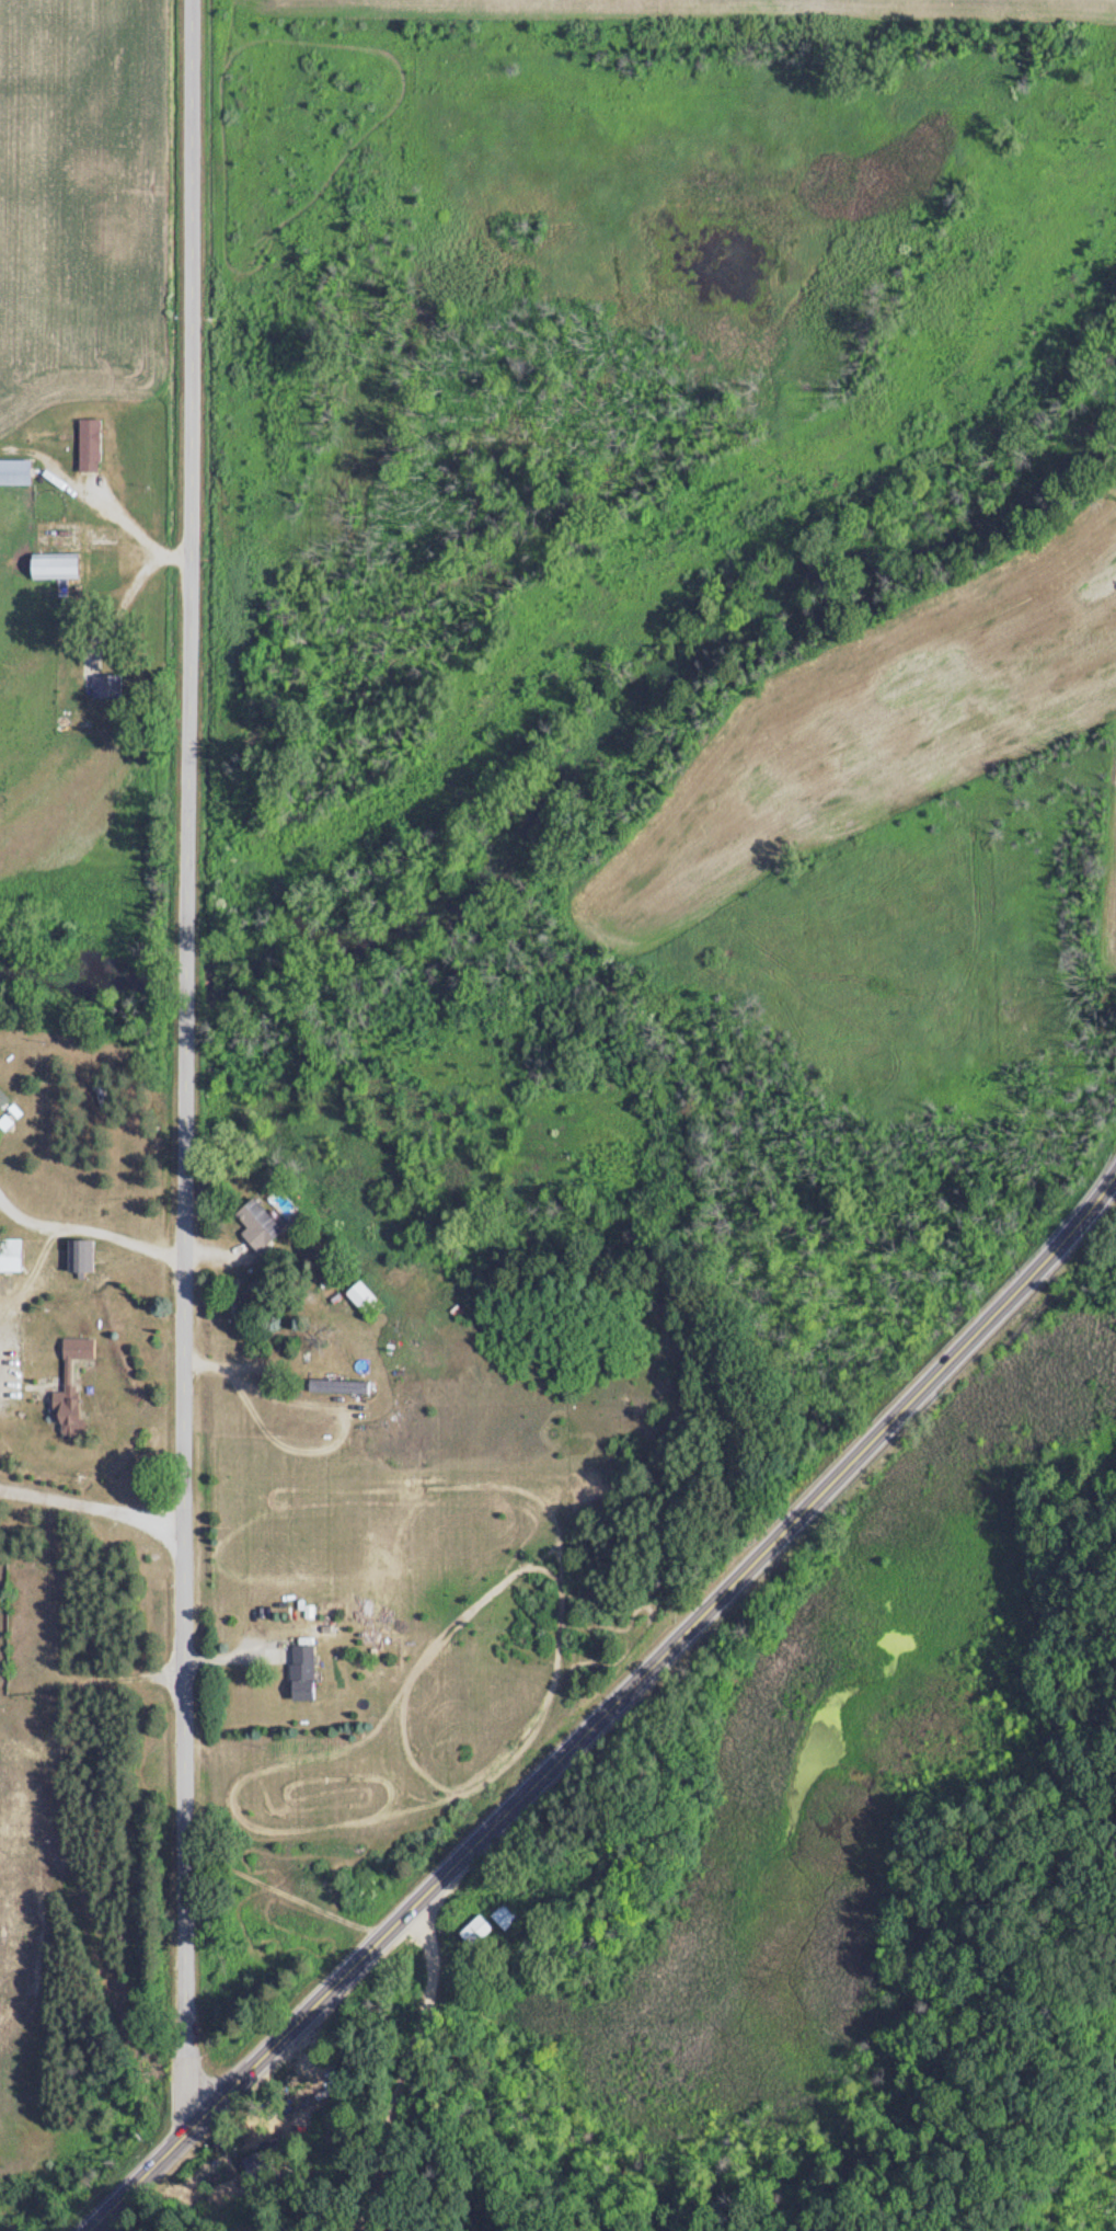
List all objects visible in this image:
building: (94, 445)
building: (18, 472)
road: (122, 510)
road: (177, 548)
building: (60, 567)
road: (128, 606)
building: (112, 687)
road: (187, 1065)
building: (4, 1100)
building: (263, 1223)
road: (90, 1227)
building: (13, 1255)
building: (87, 1255)
road: (36, 1277)
building: (370, 1300)
building: (344, 1385)
building: (71, 1386)
road: (263, 1421)
road: (94, 1497)
building: (307, 1672)
road: (607, 1709)
road: (285, 1891)
building: (511, 1917)
building: (482, 1931)
road: (409, 2067)
building: (267, 2160)

